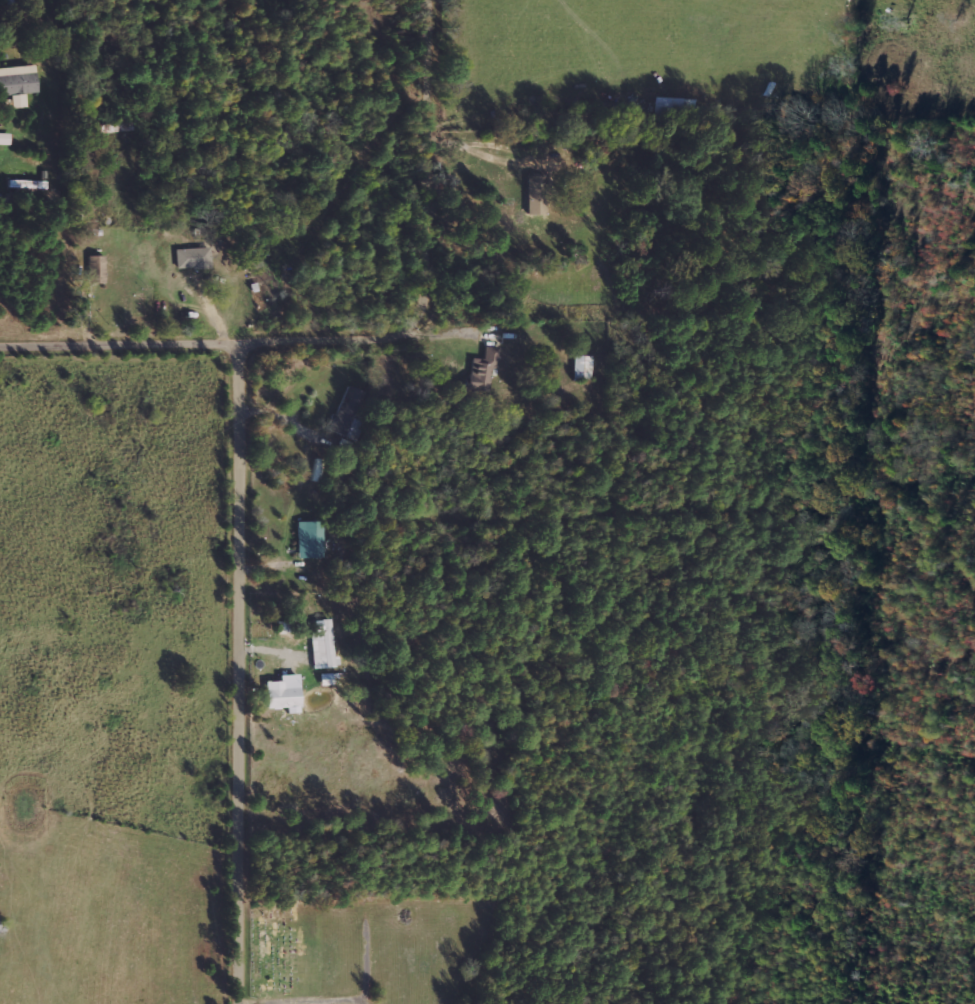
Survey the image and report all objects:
building: (17, 83)
building: (665, 107)
building: (4, 138)
building: (533, 195)
building: (191, 258)
building: (95, 269)
road: (128, 346)
building: (582, 368)
building: (481, 371)
building: (349, 411)
road: (246, 428)
building: (308, 539)
building: (322, 643)
building: (325, 678)
building: (279, 695)
building: (1, 924)
park: (370, 950)
road: (231, 1002)

